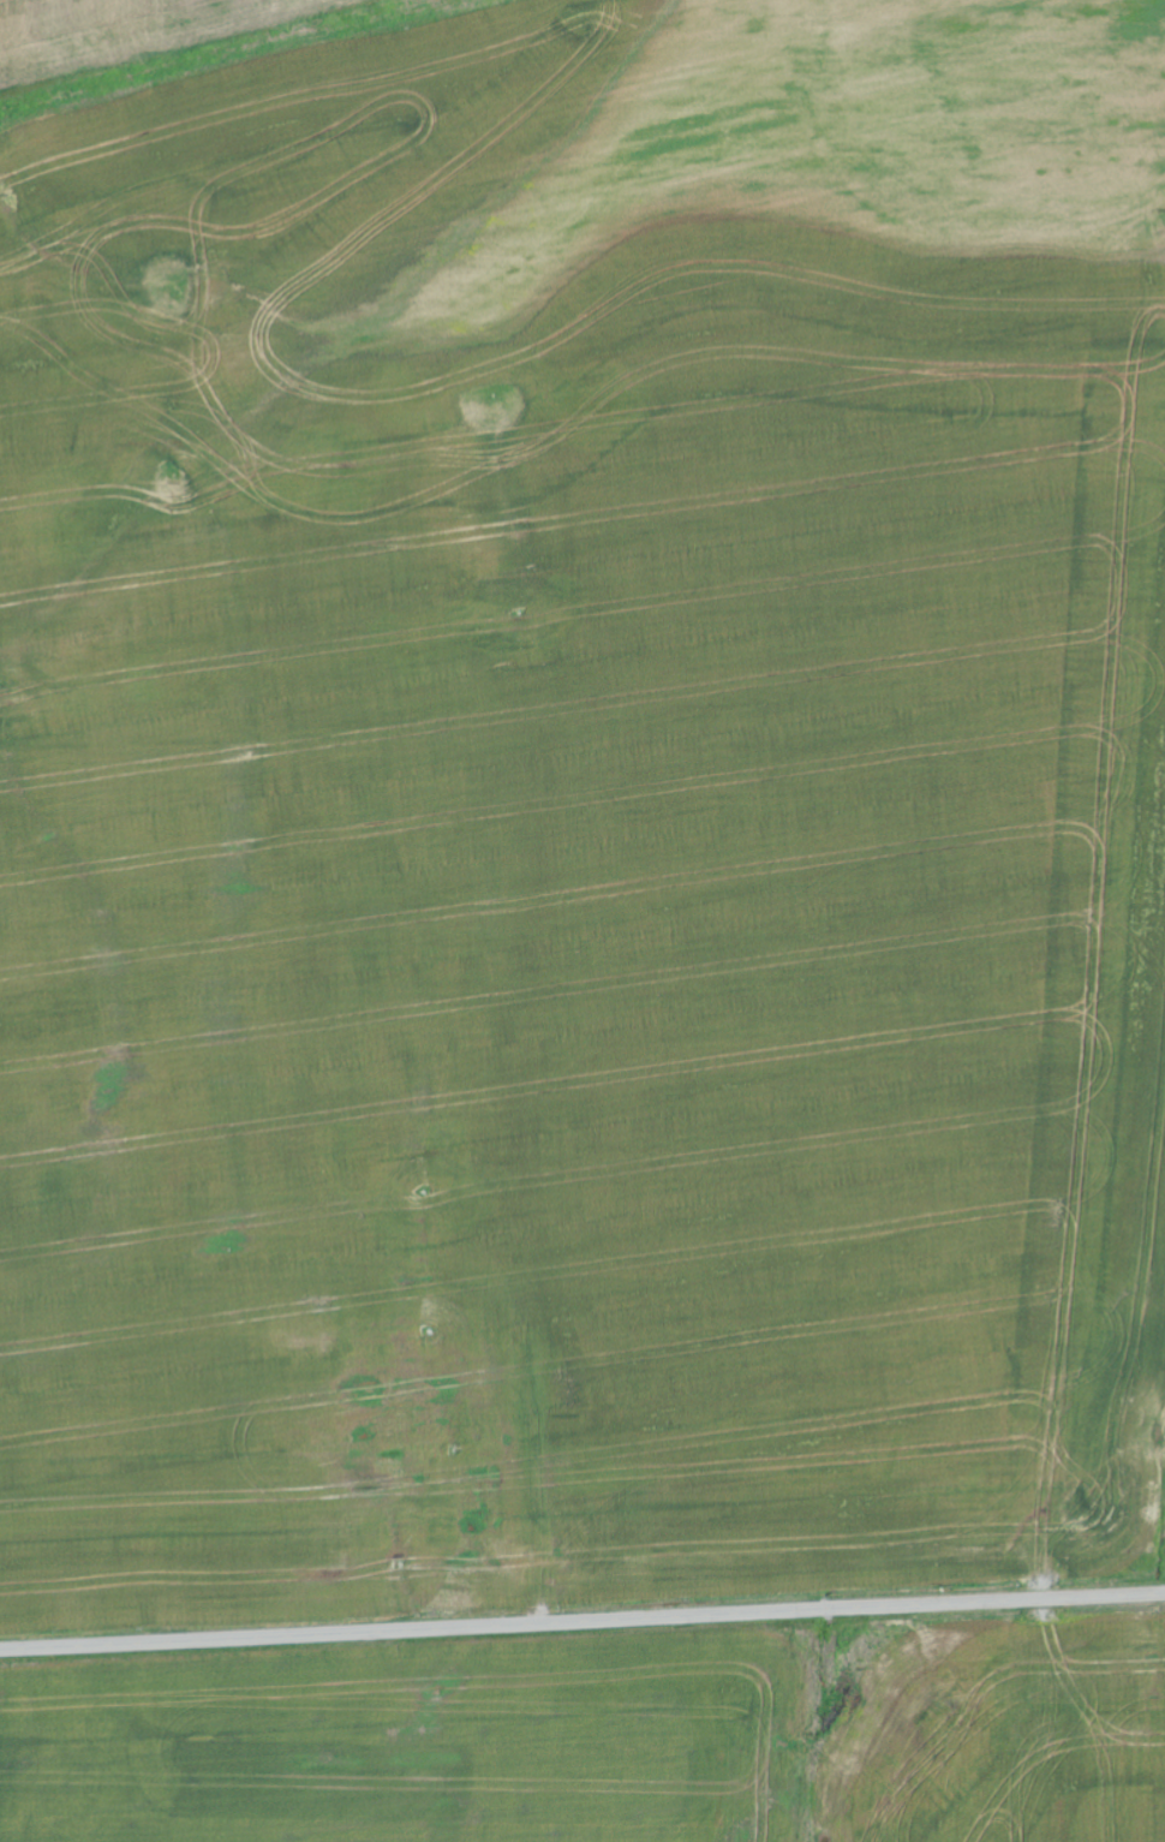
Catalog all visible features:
road: (582, 1622)

